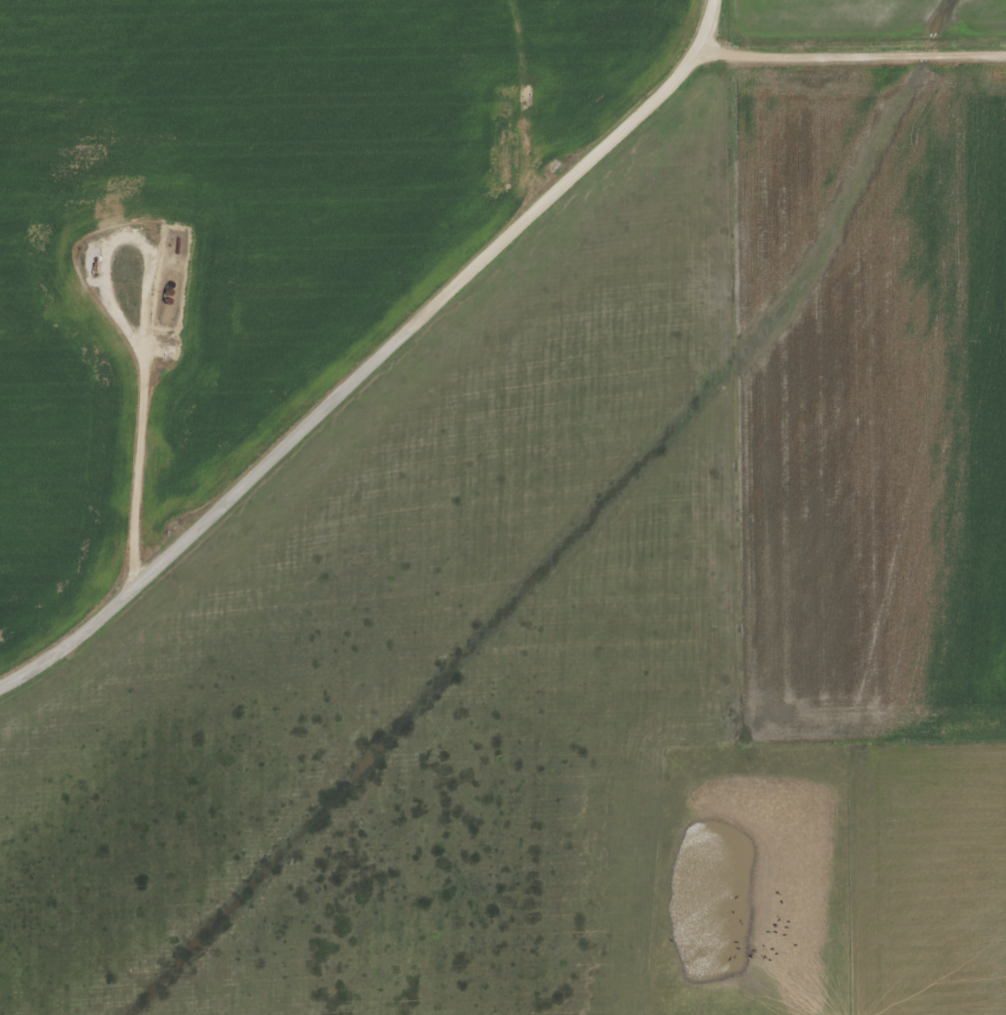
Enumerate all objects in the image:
road: (852, 50)
petroleum well: (93, 265)
road: (372, 353)

